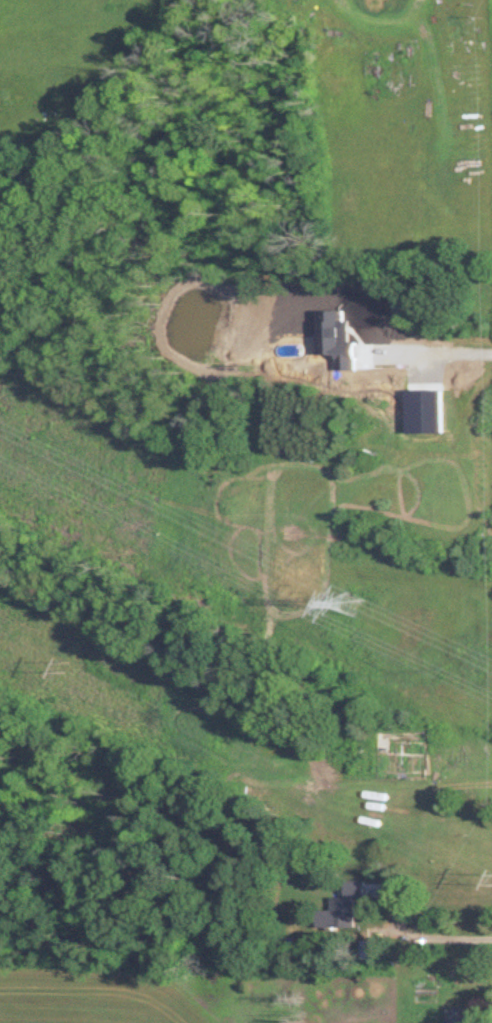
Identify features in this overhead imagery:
road: (451, 350)
power tower: (355, 612)
power tower: (69, 663)
building: (343, 915)
road: (432, 933)
building: (377, 950)
building: (465, 1015)

